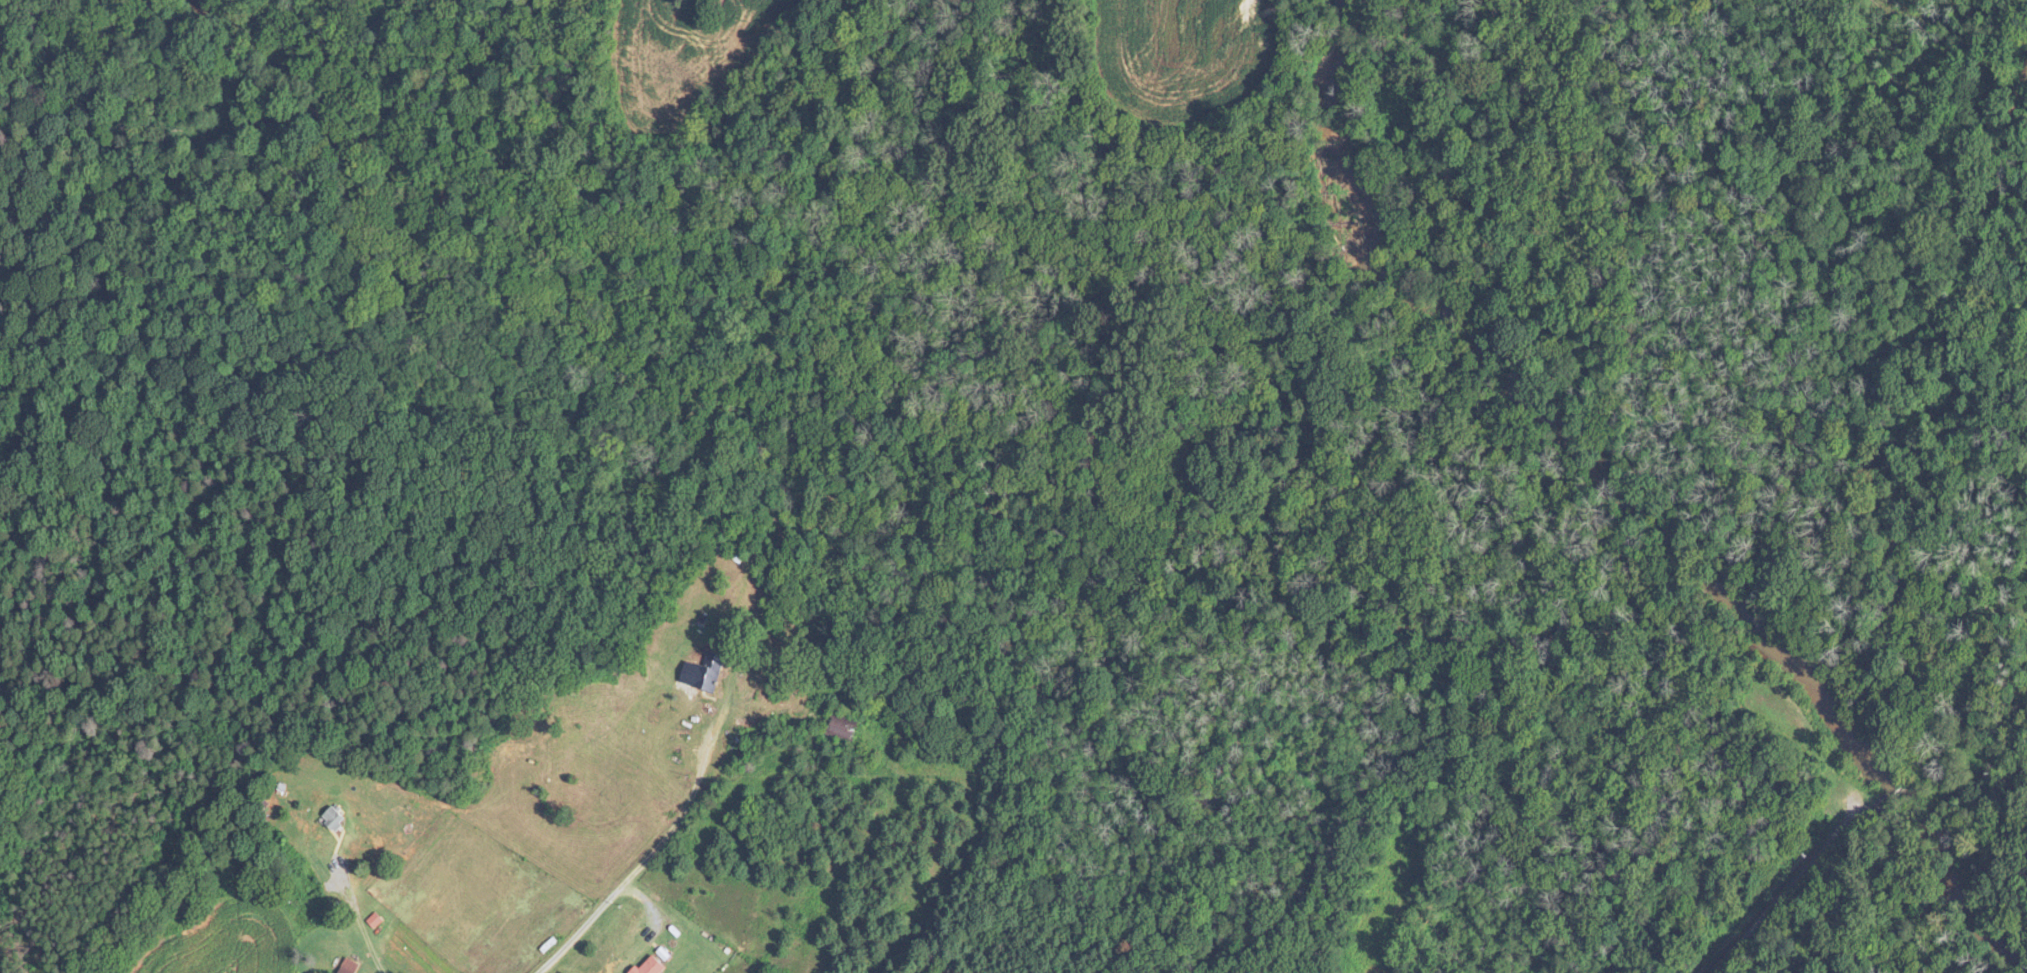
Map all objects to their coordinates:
road: (728, 642)
building: (704, 672)
building: (842, 726)
building: (317, 838)
road: (1801, 875)
road: (612, 892)
road: (357, 917)
building: (375, 921)
building: (349, 966)
building: (652, 966)

